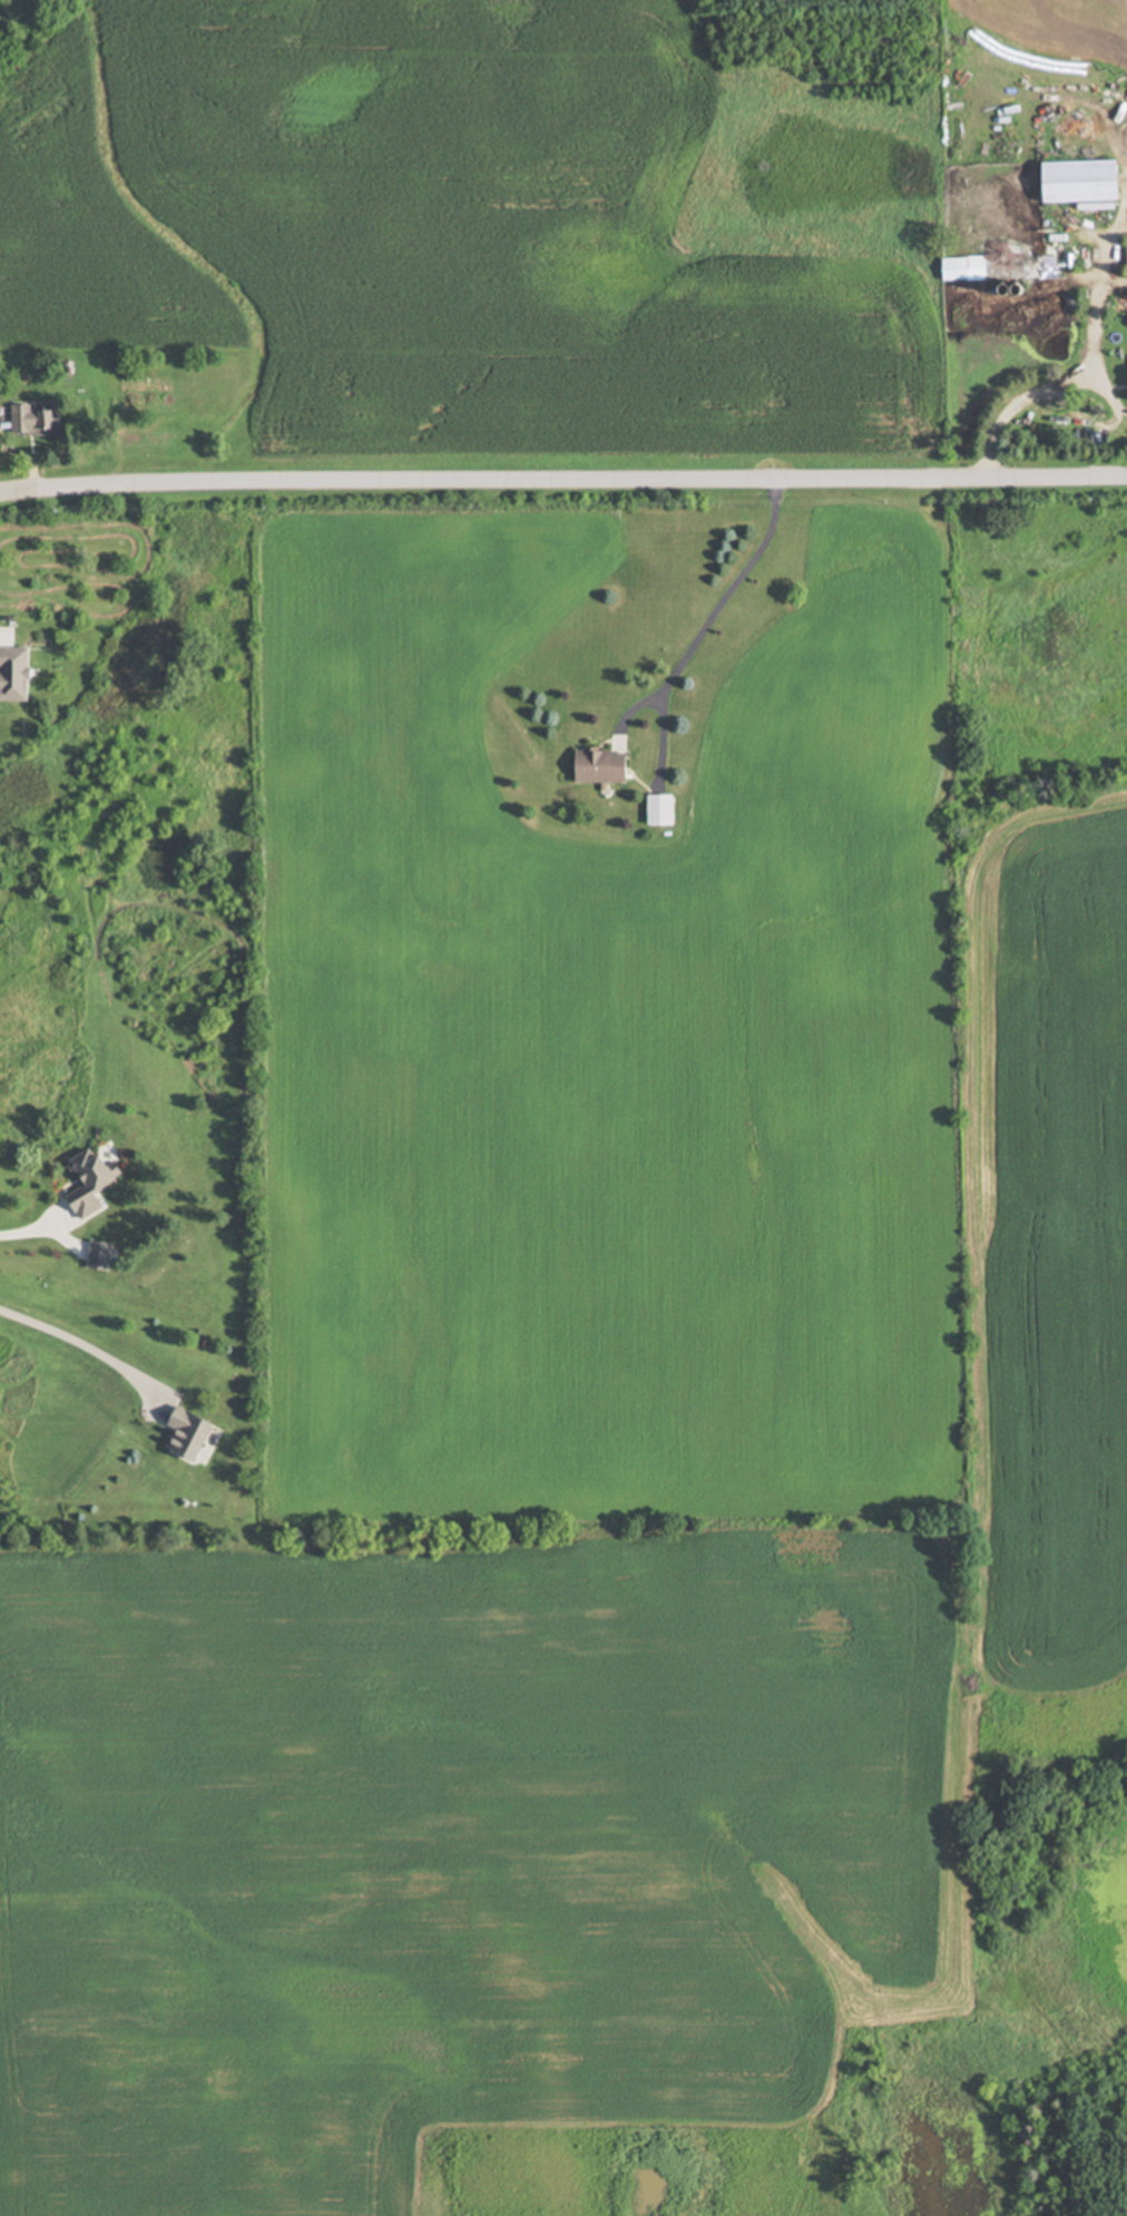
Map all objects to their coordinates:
building: (1089, 180)
road: (1105, 249)
building: (1013, 267)
road: (1113, 283)
road: (1053, 388)
building: (41, 421)
road: (1110, 423)
road: (562, 475)
road: (712, 609)
building: (22, 671)
building: (607, 765)
building: (665, 810)
building: (94, 1181)
road: (28, 1232)
building: (100, 1255)
road: (85, 1345)
building: (193, 1432)

